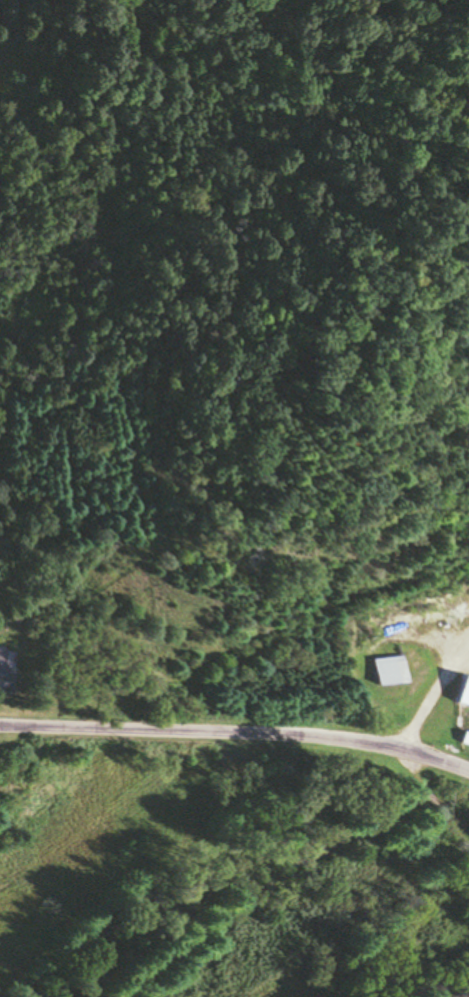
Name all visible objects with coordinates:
building: (389, 672)
building: (3, 679)
building: (463, 693)
road: (237, 730)

